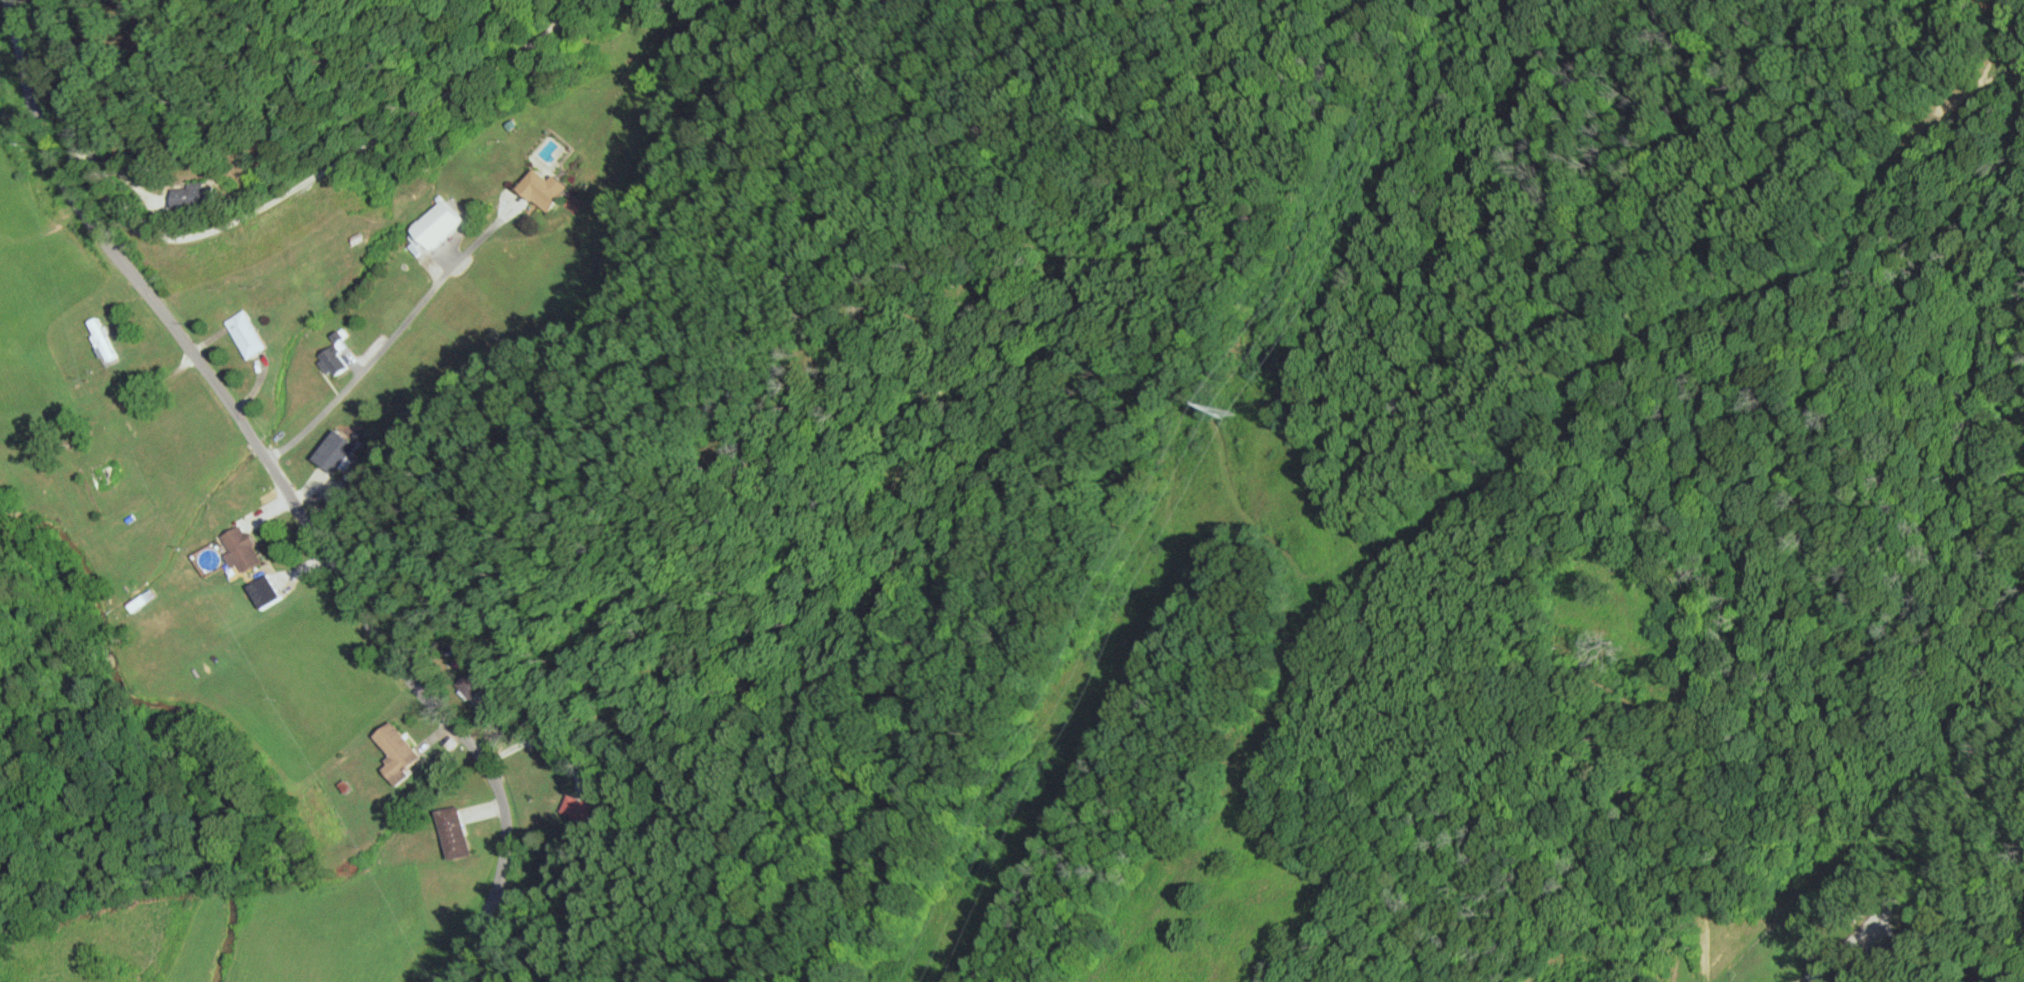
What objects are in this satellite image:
road: (2012, 28)
building: (549, 190)
building: (201, 196)
road: (256, 211)
building: (446, 224)
building: (251, 334)
road: (388, 340)
building: (338, 449)
road: (290, 488)
building: (247, 551)
building: (265, 590)
building: (144, 600)
building: (479, 687)
building: (403, 754)
building: (577, 808)
building: (459, 834)
road: (563, 938)

